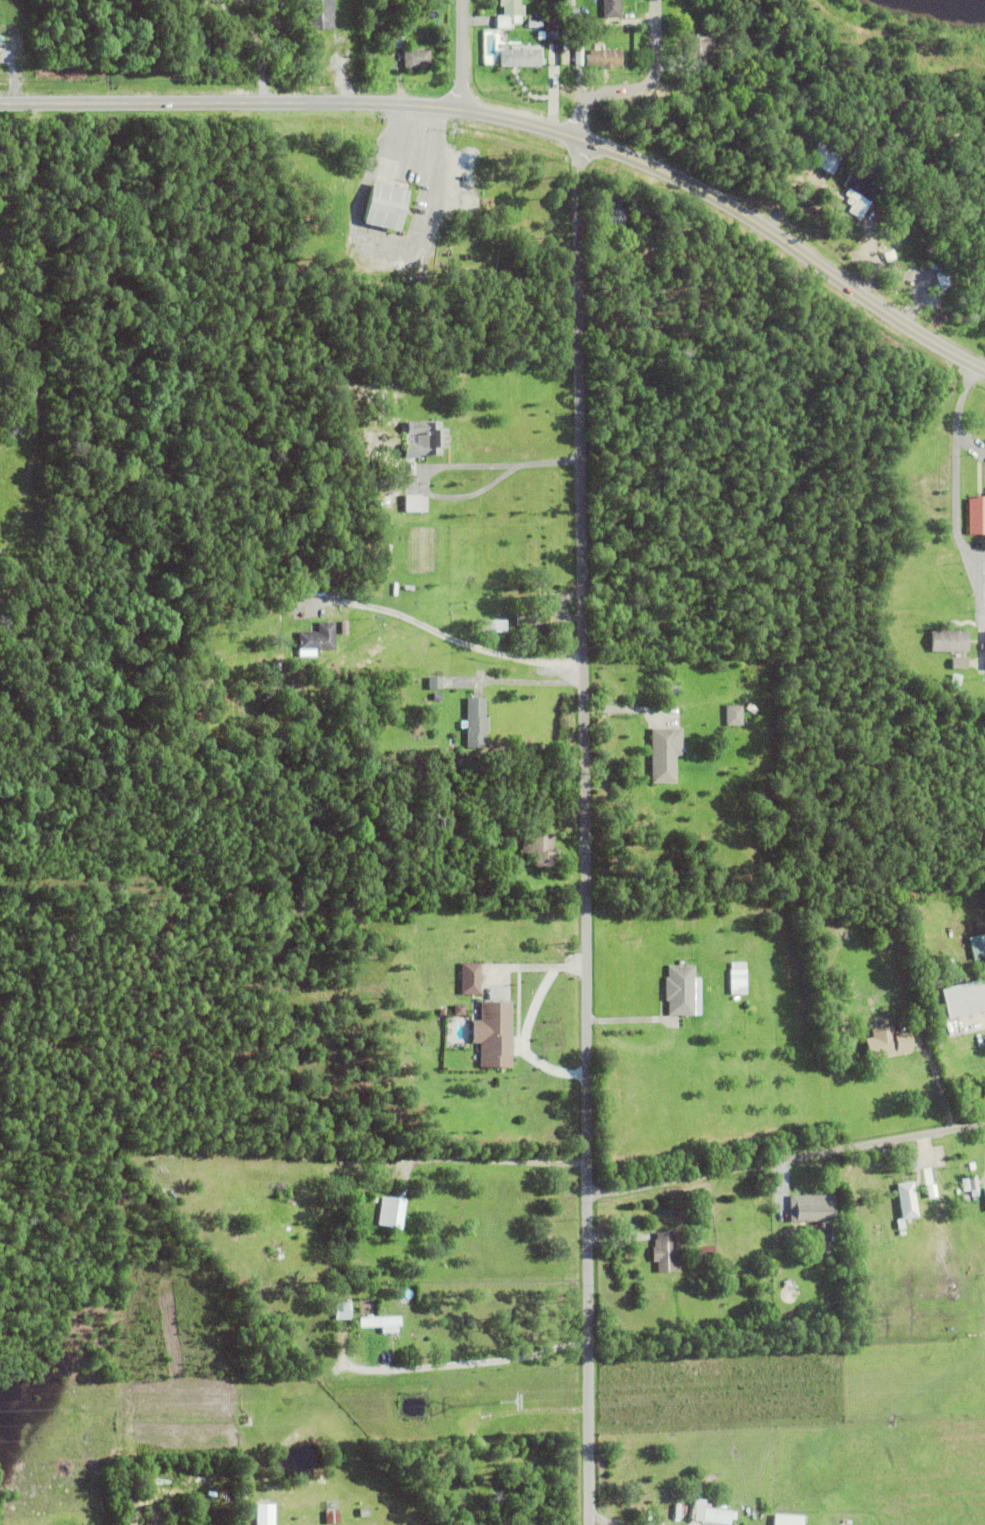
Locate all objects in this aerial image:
building: (392, 1)
building: (611, 9)
building: (509, 14)
building: (320, 16)
building: (551, 22)
building: (534, 26)
building: (398, 30)
building: (396, 43)
building: (544, 44)
building: (409, 46)
building: (566, 51)
building: (697, 51)
road: (463, 55)
building: (415, 60)
building: (519, 60)
building: (604, 61)
road: (641, 87)
road: (524, 122)
building: (784, 155)
building: (826, 157)
building: (861, 191)
building: (602, 194)
building: (384, 211)
building: (615, 215)
building: (638, 226)
building: (899, 245)
building: (889, 257)
building: (639, 293)
road: (957, 417)
building: (425, 436)
building: (380, 467)
road: (508, 472)
building: (417, 502)
building: (976, 513)
road: (955, 528)
road: (980, 557)
parking lot: (976, 589)
building: (529, 619)
building: (495, 624)
building: (317, 637)
building: (948, 639)
road: (463, 649)
building: (959, 662)
building: (435, 681)
road: (527, 681)
building: (954, 681)
building: (437, 696)
building: (733, 714)
building: (476, 721)
building: (665, 752)
road: (586, 831)
building: (539, 846)
building: (669, 929)
building: (491, 937)
building: (500, 939)
building: (476, 945)
building: (977, 945)
building: (703, 963)
road: (528, 968)
building: (472, 978)
building: (738, 981)
building: (680, 989)
building: (833, 995)
building: (966, 998)
building: (460, 1008)
building: (835, 1018)
building: (494, 1033)
building: (881, 1044)
road: (786, 1158)
building: (973, 1185)
building: (390, 1186)
building: (984, 1191)
building: (373, 1199)
building: (909, 1200)
building: (812, 1207)
building: (303, 1209)
building: (392, 1211)
building: (812, 1229)
building: (664, 1251)
building: (705, 1254)
building: (343, 1310)
building: (381, 1322)
building: (357, 1349)
road: (458, 1362)
power tower: (503, 1404)
building: (470, 1457)
building: (434, 1464)
building: (364, 1512)
building: (267, 1513)
building: (717, 1515)
building: (332, 1517)
road: (601, 1520)
building: (788, 1520)

